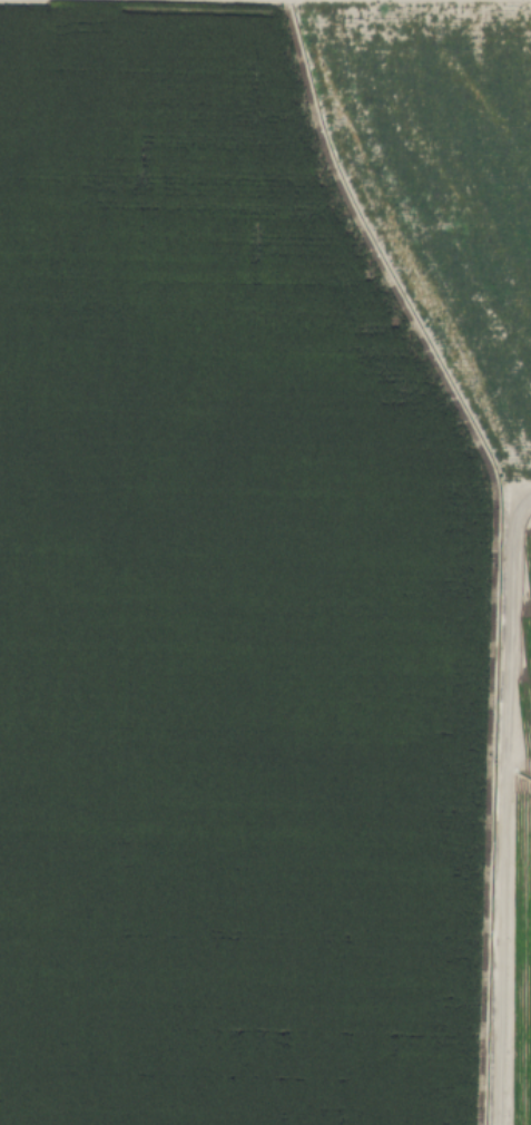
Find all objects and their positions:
road: (499, 806)

